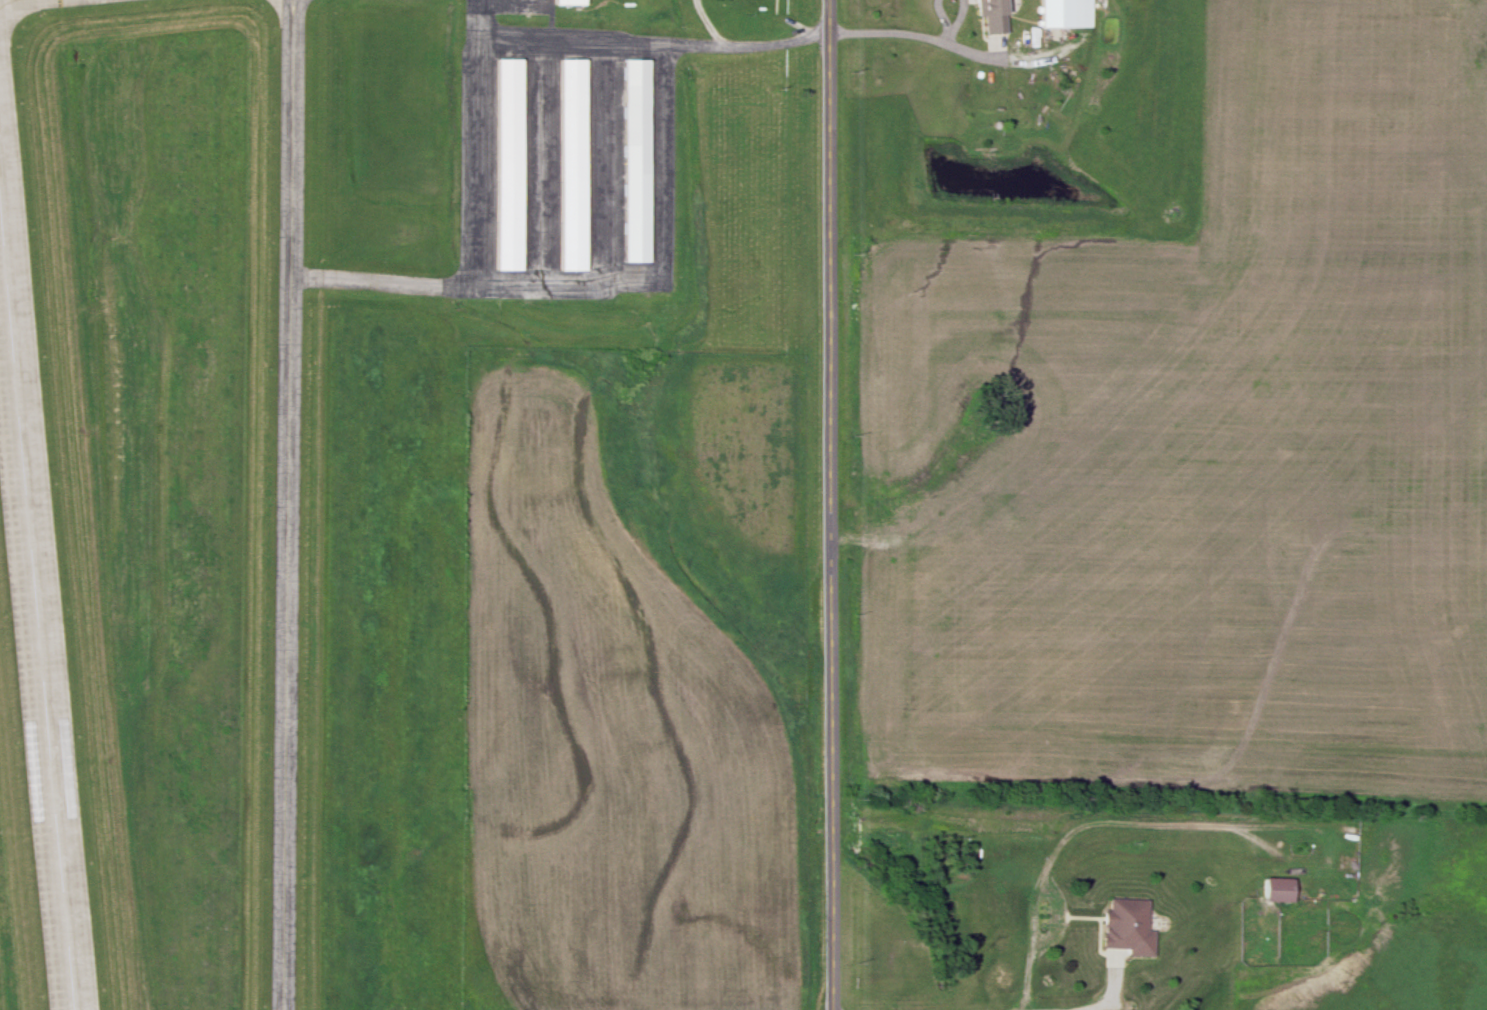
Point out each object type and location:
airport taxiway: (20, 1)
building: (564, 4)
airport apron: (513, 7)
building: (1065, 14)
building: (995, 16)
road: (914, 37)
road: (652, 46)
airport taxiway: (536, 165)
building: (630, 165)
airport taxiway: (475, 166)
building: (505, 167)
airport taxiway: (600, 167)
building: (569, 168)
airport taxiway: (592, 288)
crop: (1211, 456)
airport taxiway: (285, 504)
road: (827, 504)
airport: (407, 505)
airport runway: (34, 637)
building: (1281, 891)
building: (1130, 928)
road: (982, 1005)

